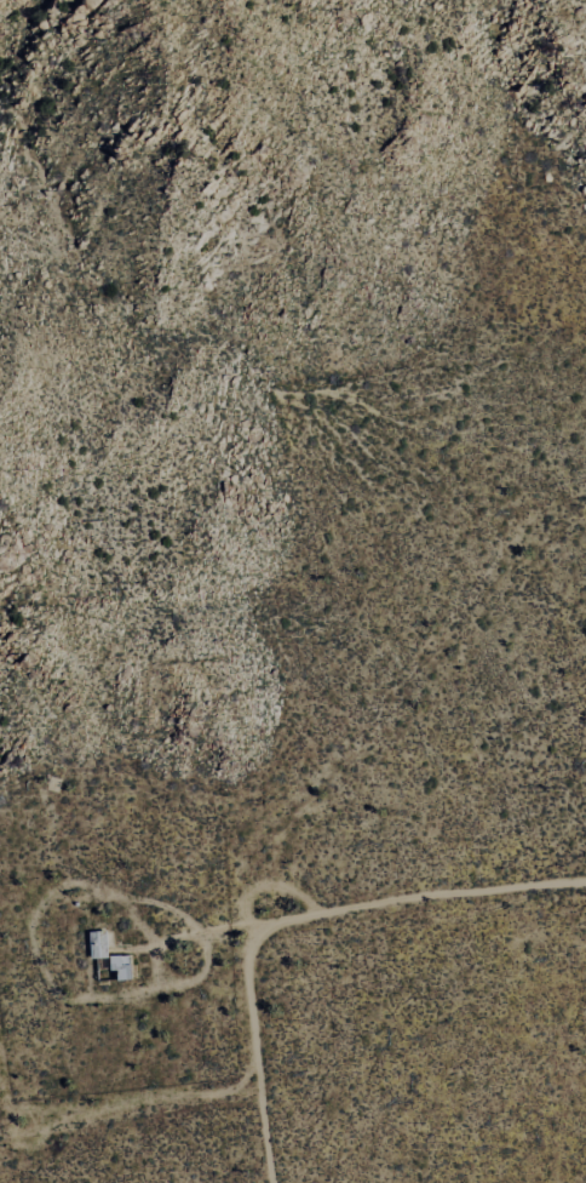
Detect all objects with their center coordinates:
road: (299, 921)
building: (98, 944)
building: (122, 966)

